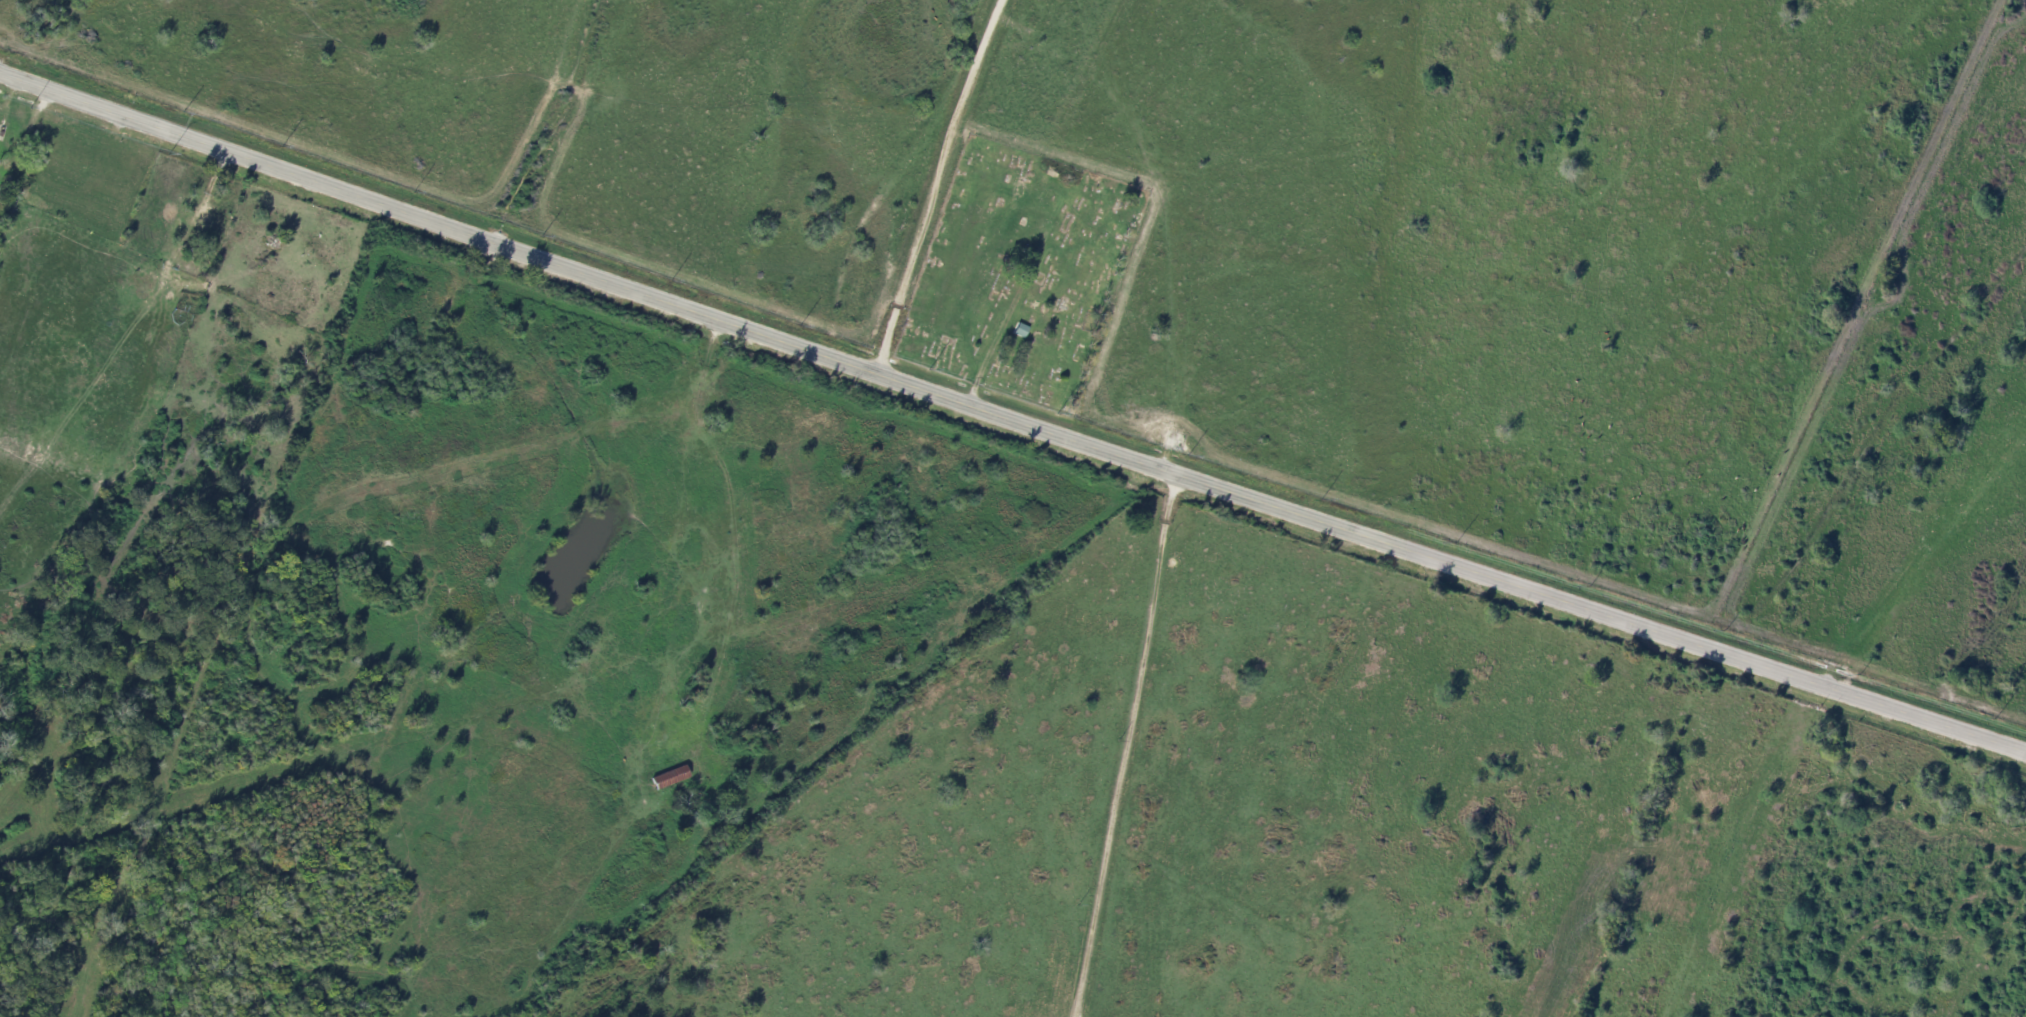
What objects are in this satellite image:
road: (43, 98)
road: (7, 106)
road: (115, 130)
road: (931, 184)
park: (1018, 273)
building: (1020, 331)
road: (973, 388)
road: (1125, 402)
road: (1010, 419)
road: (1134, 747)
road: (725, 750)
building: (669, 777)

